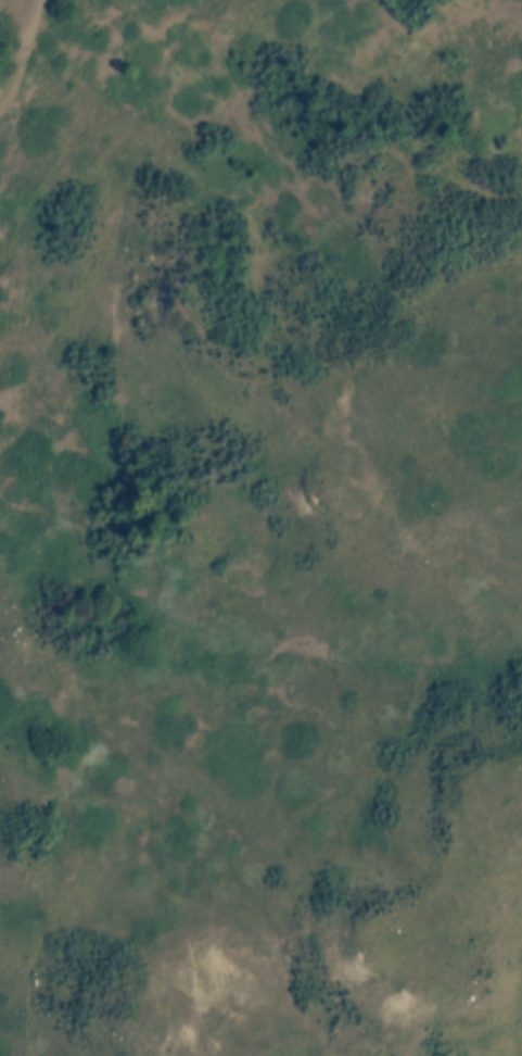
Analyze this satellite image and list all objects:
road: (24, 43)

